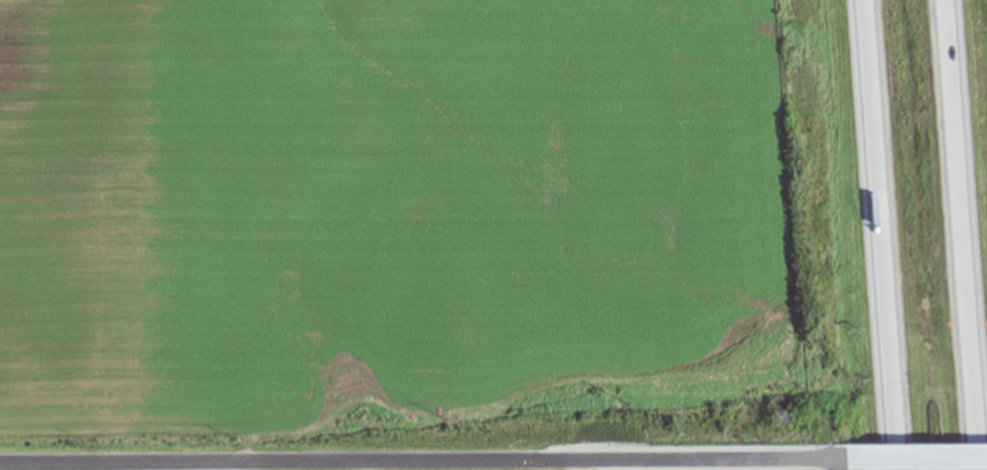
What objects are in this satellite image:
road: (967, 234)
road: (882, 235)
road: (905, 461)
road: (411, 464)
road: (575, 466)

